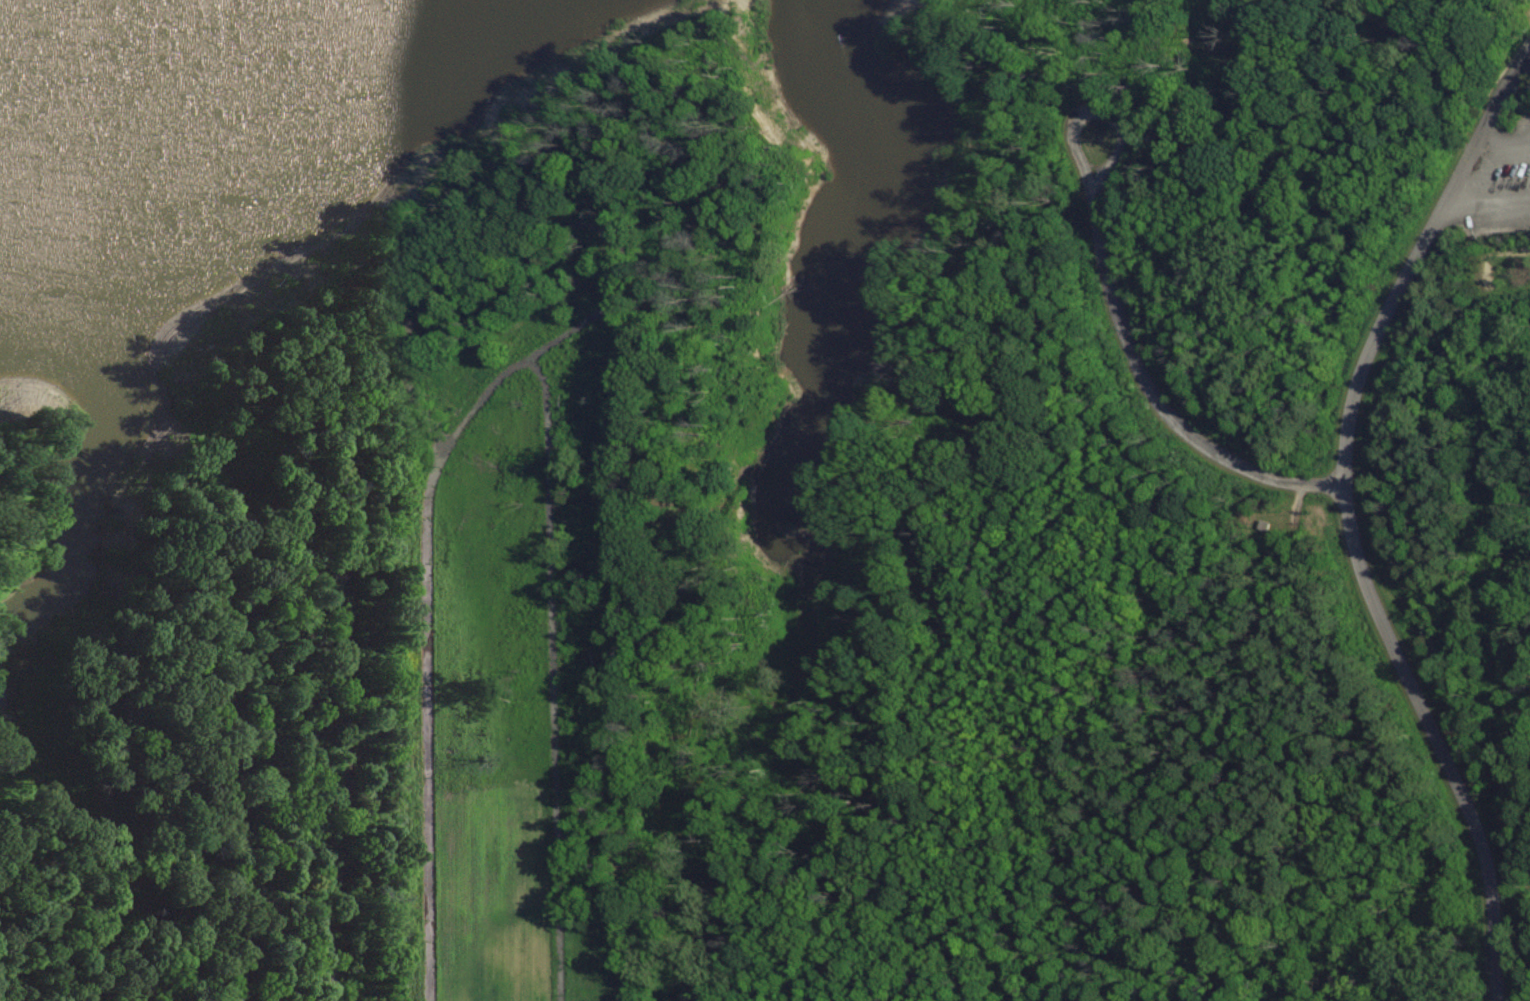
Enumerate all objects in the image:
road: (1079, 119)
road: (1499, 150)
parking lot: (1501, 181)
road: (1487, 197)
road: (1156, 400)
road: (1348, 520)
road: (432, 601)
road: (557, 676)
road: (1475, 680)
road: (367, 814)

